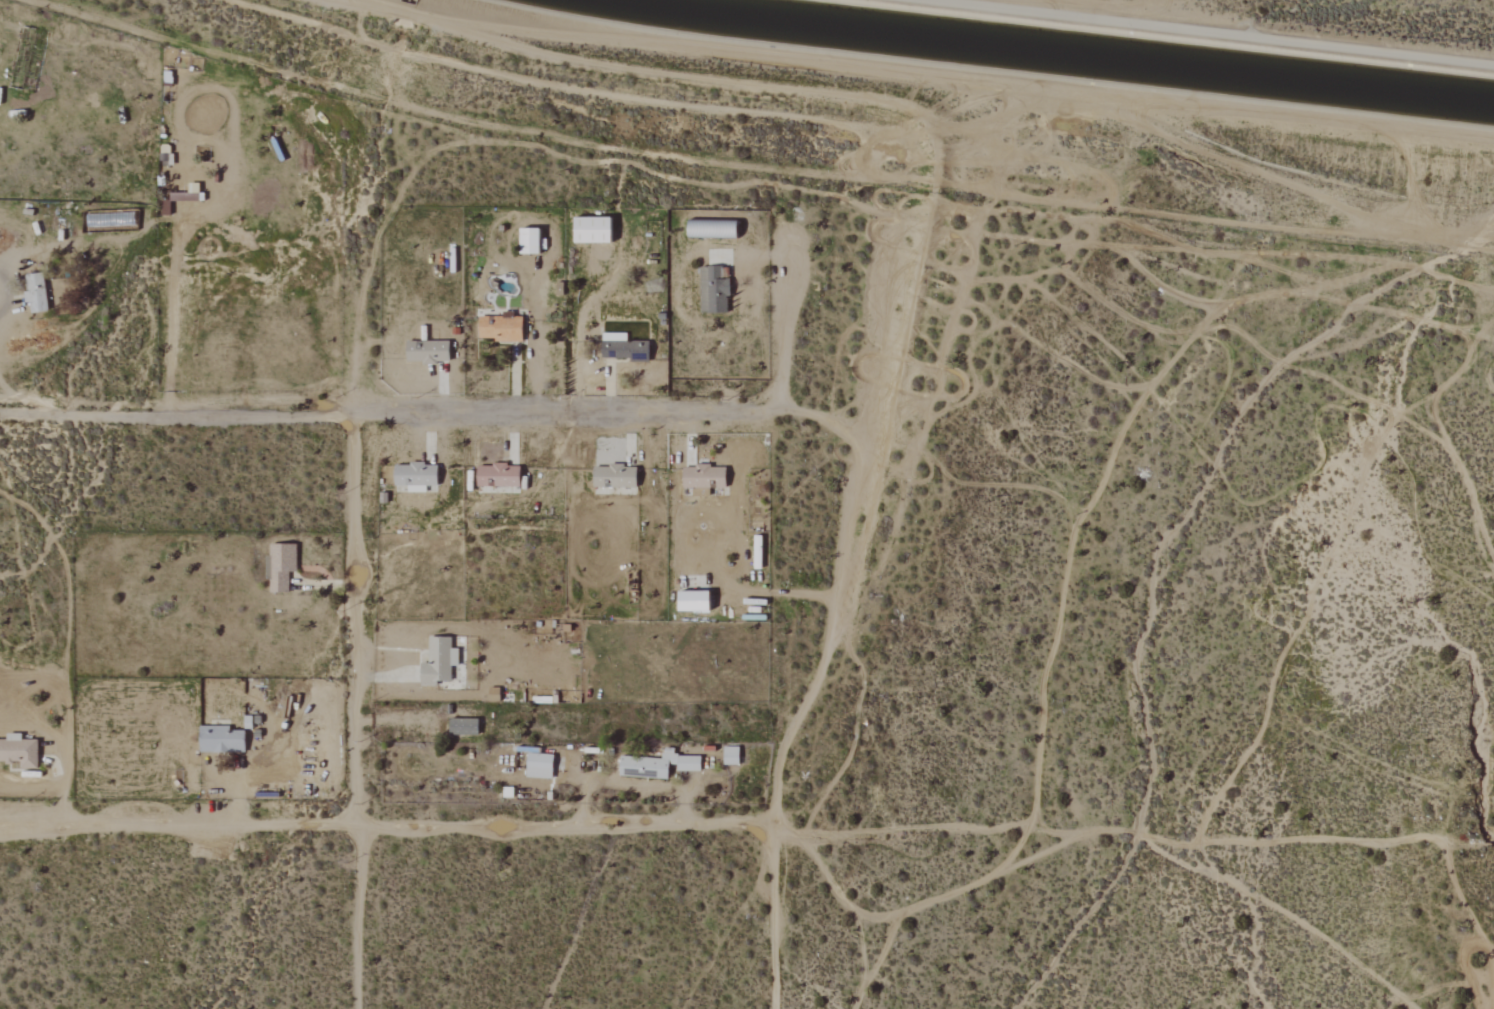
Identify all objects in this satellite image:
road: (409, 1)
road: (379, 4)
road: (409, 8)
road: (405, 25)
road: (1215, 35)
road: (956, 82)
building: (714, 229)
building: (595, 231)
building: (532, 242)
road: (1, 277)
building: (714, 290)
building: (38, 294)
building: (503, 328)
road: (777, 331)
building: (429, 351)
road: (390, 416)
building: (500, 475)
building: (417, 476)
building: (617, 476)
building: (705, 478)
building: (280, 568)
road: (834, 598)
building: (697, 601)
building: (440, 661)
road: (357, 712)
building: (465, 726)
building: (223, 739)
building: (20, 751)
building: (732, 756)
building: (541, 766)
road: (386, 829)
road: (774, 918)

